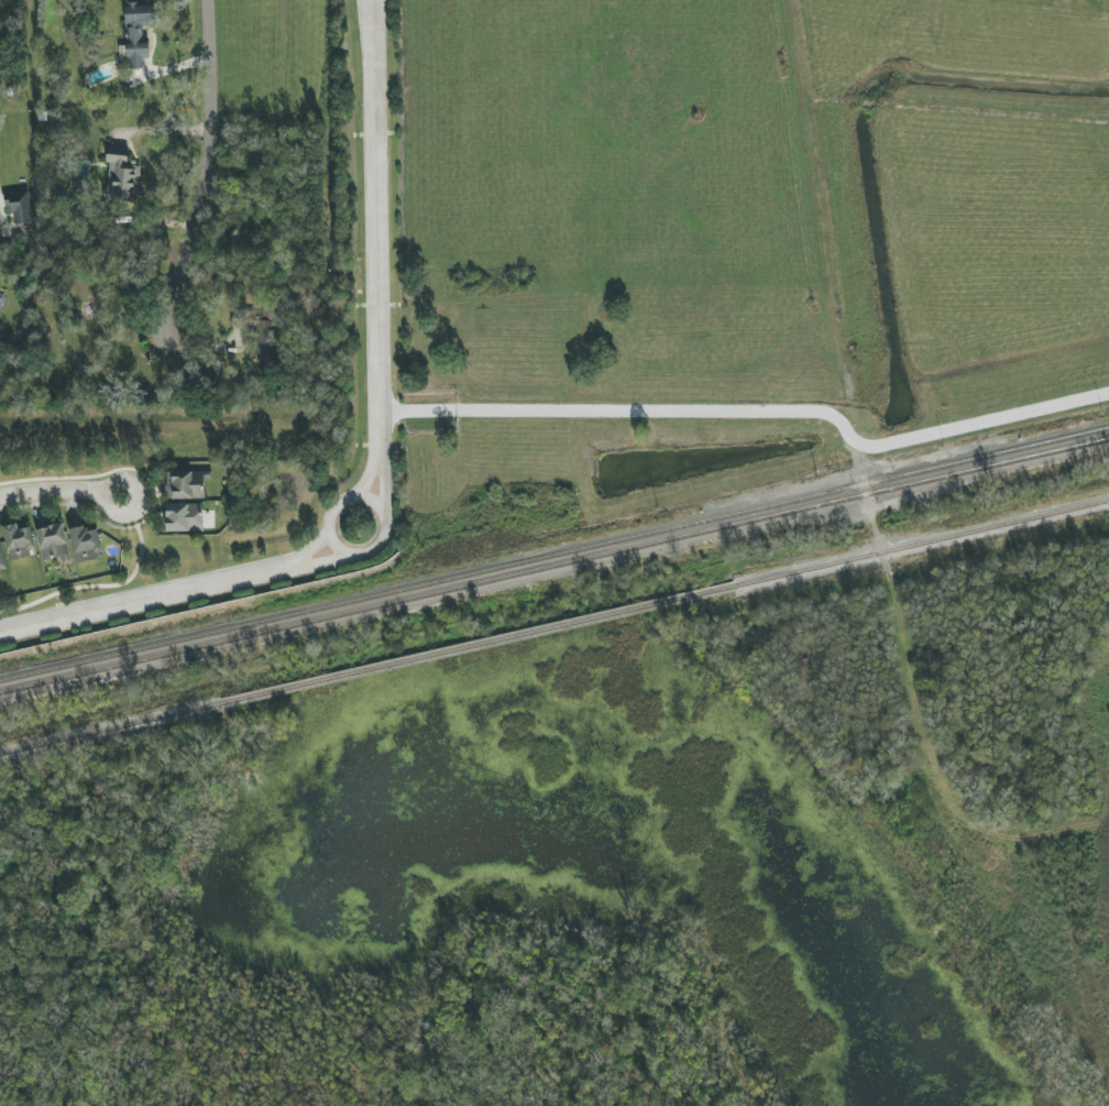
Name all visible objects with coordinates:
road: (366, 12)
road: (370, 12)
road: (960, 109)
road: (205, 166)
building: (122, 173)
road: (826, 207)
building: (20, 209)
road: (373, 234)
airport: (733, 241)
building: (260, 332)
road: (754, 410)
road: (260, 429)
road: (378, 451)
building: (185, 484)
road: (59, 490)
building: (183, 517)
road: (326, 522)
building: (18, 541)
building: (53, 543)
building: (85, 544)
railway: (554, 556)
building: (2, 561)
road: (304, 562)
railway: (554, 567)
road: (149, 594)
railway: (554, 629)

